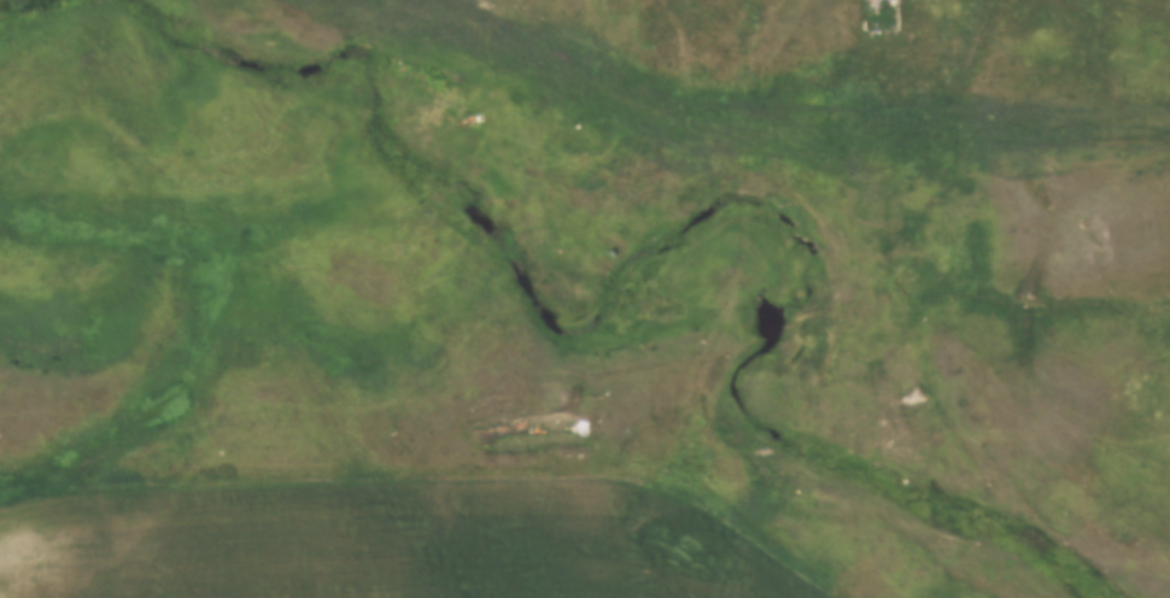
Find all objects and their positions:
building: (485, 412)

